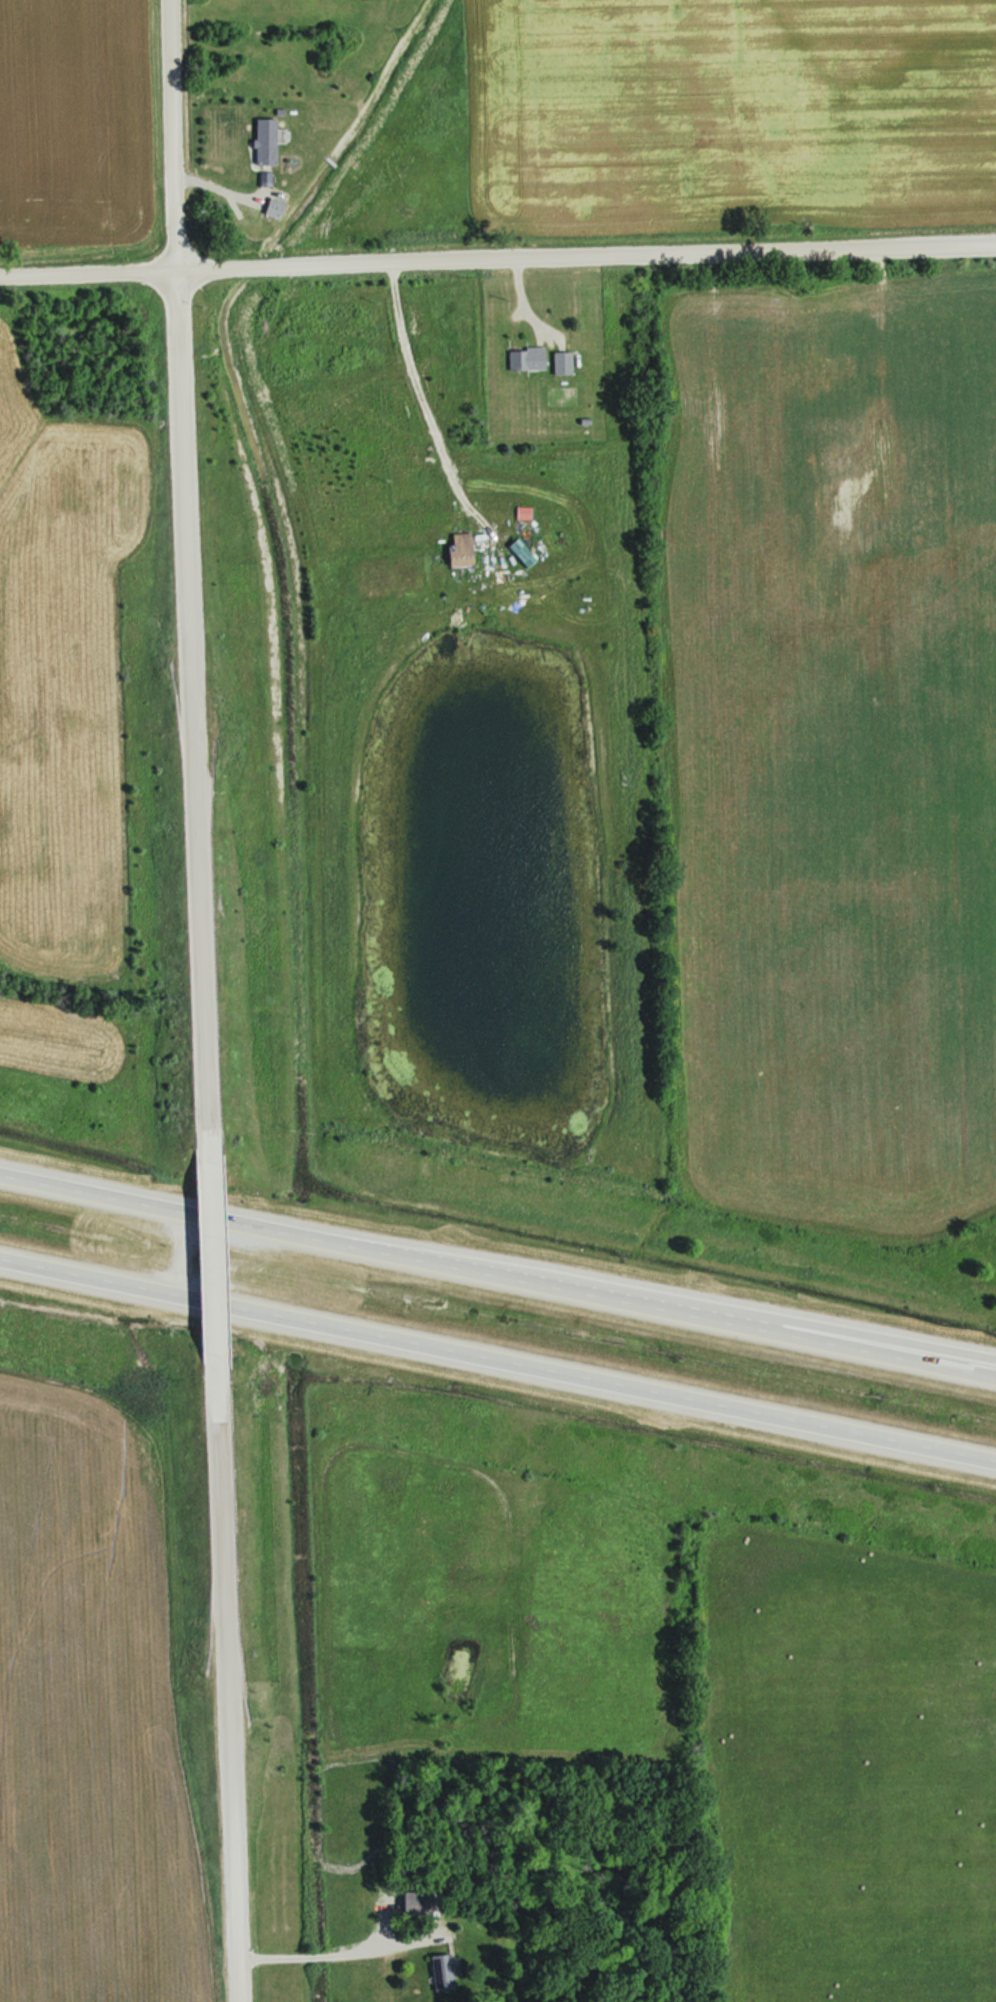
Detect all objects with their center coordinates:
building: (270, 140)
building: (278, 206)
road: (497, 260)
building: (529, 359)
building: (566, 362)
road: (427, 402)
building: (465, 548)
road: (184, 578)
road: (209, 1253)
road: (497, 1272)
road: (904, 1344)
road: (497, 1360)
road: (224, 1676)
building: (419, 1904)
road: (342, 1952)
building: (443, 1972)

